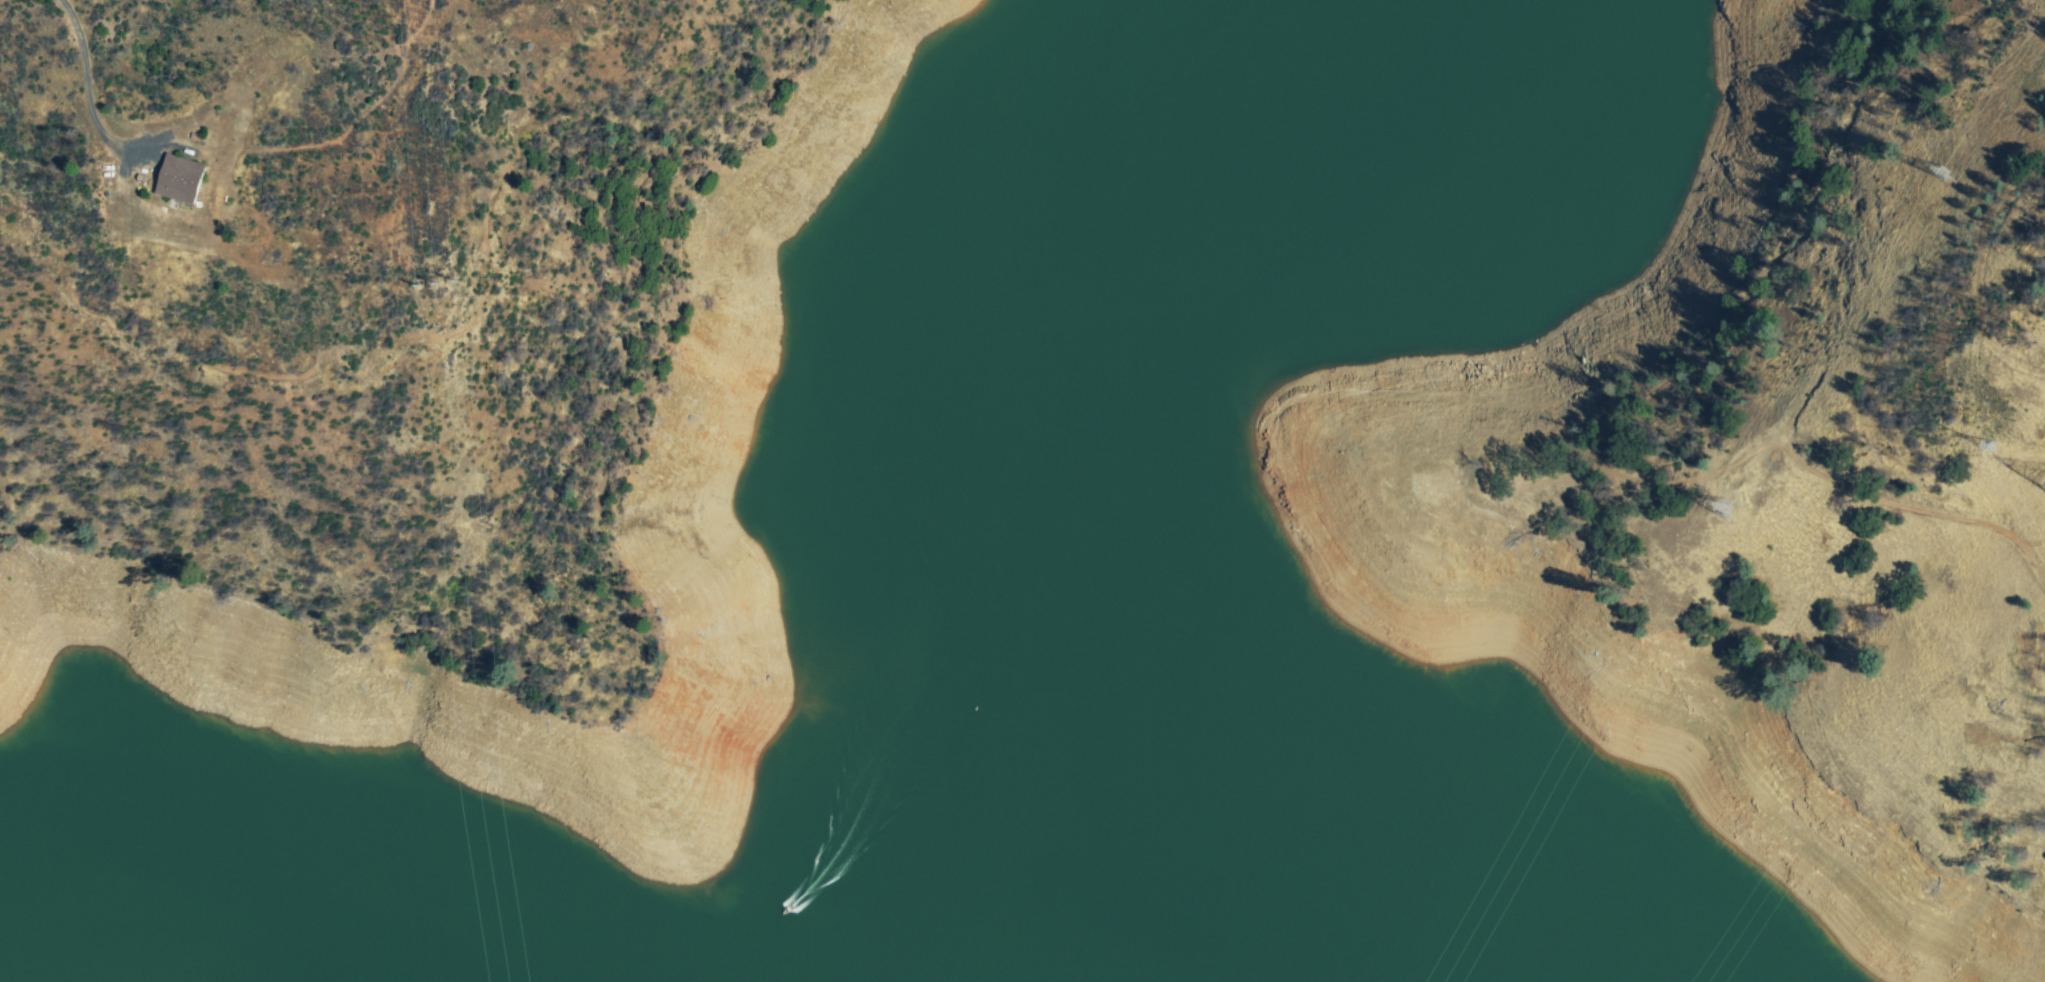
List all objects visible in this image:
road: (1645, 131)
power tower: (1932, 174)
building: (177, 180)
power tower: (436, 282)
power tower: (1990, 449)
power tower: (1706, 518)
river: (857, 916)

